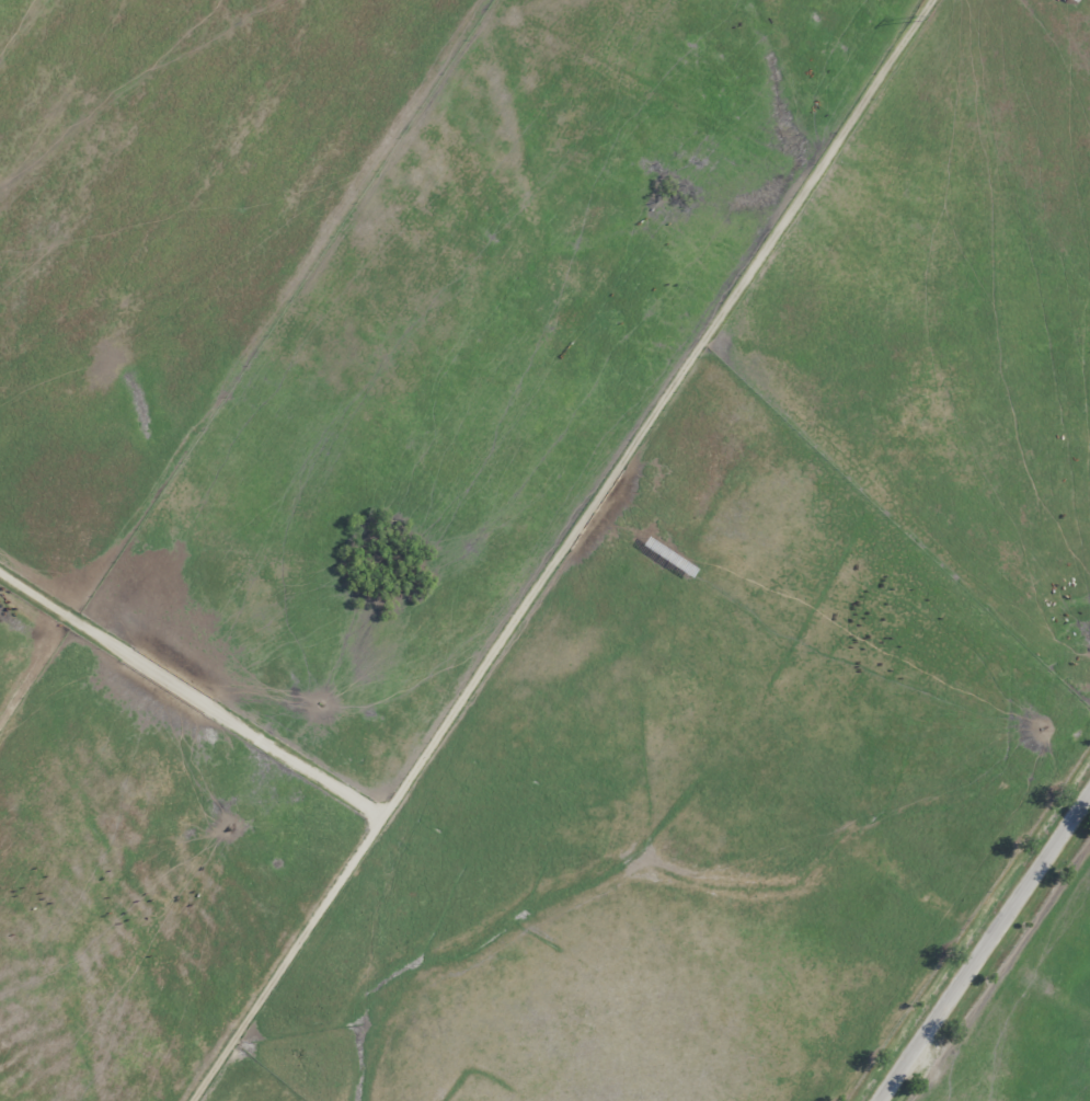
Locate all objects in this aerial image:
power tower: (918, 24)
road: (983, 945)

